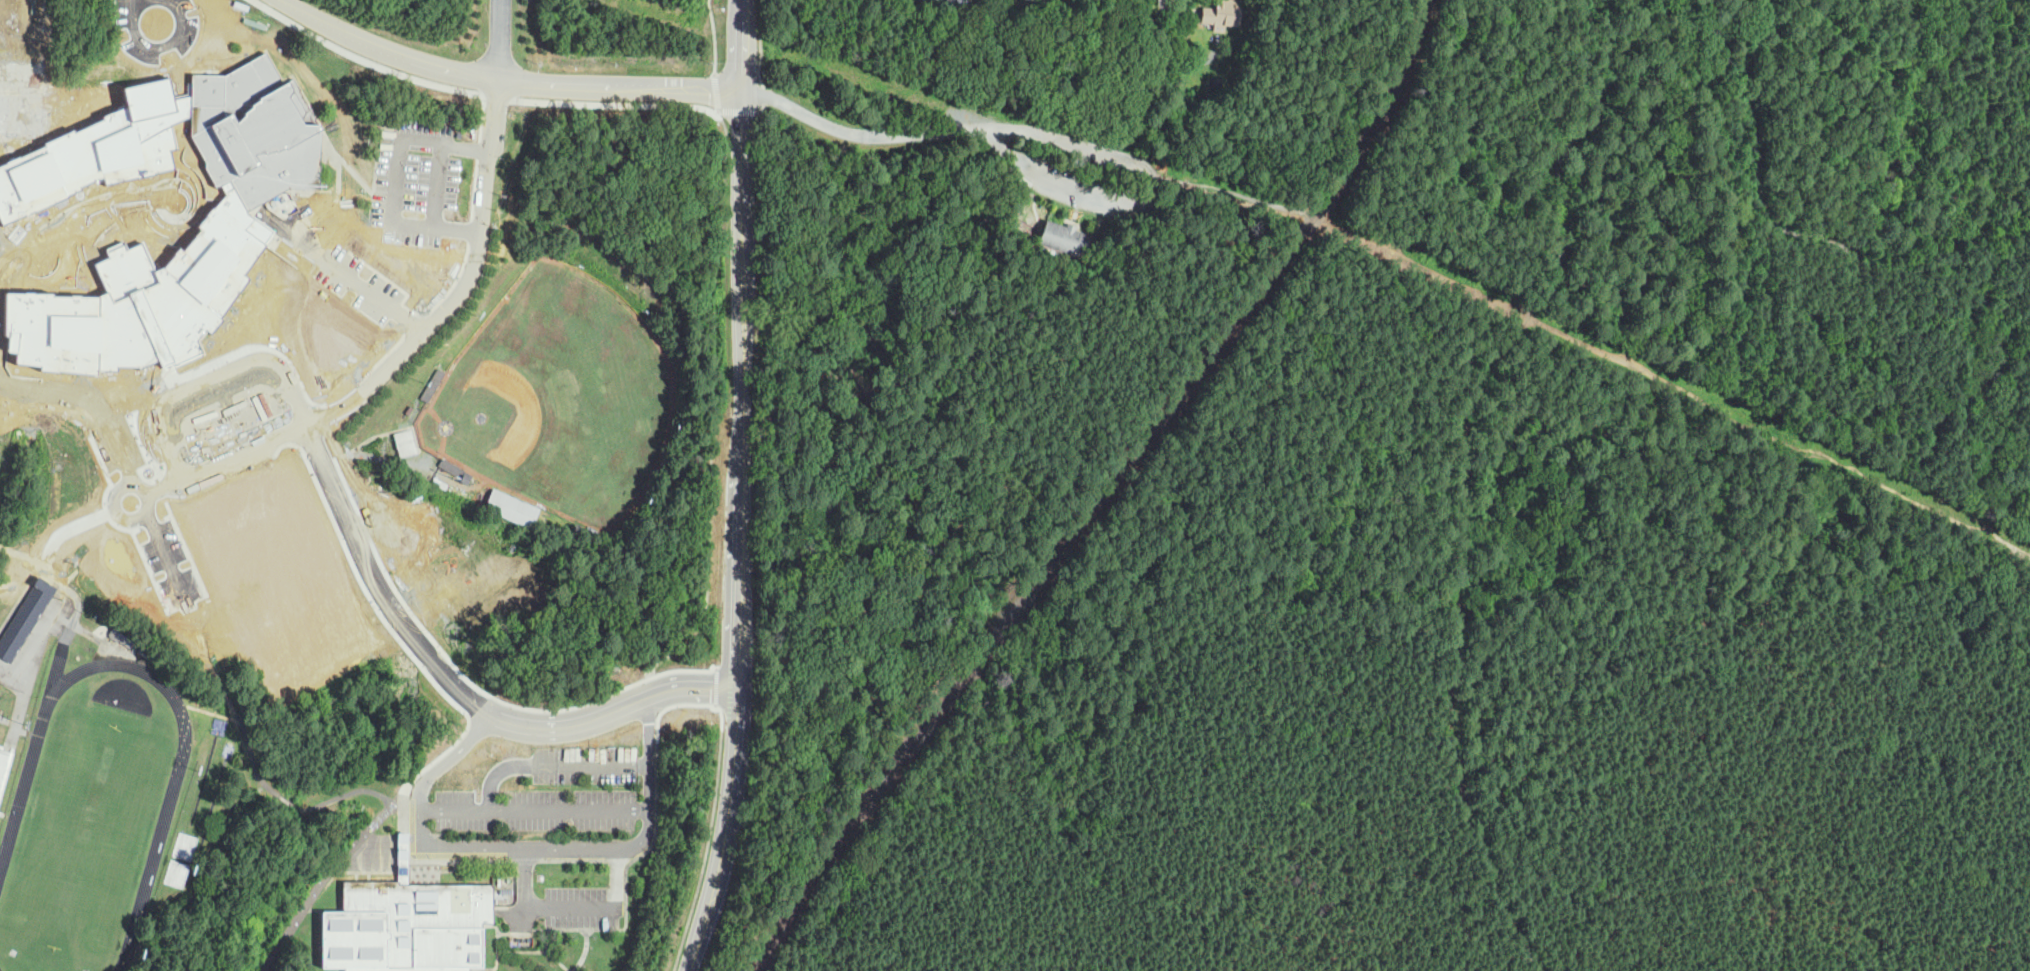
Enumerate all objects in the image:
building: (927, 0)
road: (290, 3)
road: (1166, 9)
building: (1222, 14)
building: (950, 16)
road: (999, 17)
building: (1020, 25)
road: (714, 37)
road: (761, 40)
road: (1740, 43)
building: (947, 45)
road: (745, 46)
road: (393, 52)
road: (595, 85)
building: (1216, 86)
road: (719, 91)
road: (717, 92)
building: (22, 95)
road: (761, 95)
road: (739, 111)
road: (1055, 139)
road: (384, 163)
road: (744, 163)
road: (724, 176)
road: (394, 194)
building: (1030, 210)
building: (233, 217)
road: (1397, 221)
road: (456, 225)
building: (1064, 239)
road: (1406, 265)
road: (1555, 270)
road: (422, 328)
road: (744, 381)
building: (433, 386)
park: (561, 394)
road: (1970, 396)
road: (2015, 400)
building: (454, 471)
railway: (1104, 492)
building: (511, 507)
road: (1677, 564)
road: (31, 567)
road: (388, 582)
road: (742, 606)
building: (26, 619)
building: (123, 635)
building: (149, 648)
road: (34, 656)
road: (707, 661)
road: (695, 687)
building: (218, 726)
road: (1206, 759)
road: (561, 763)
building: (3, 768)
road: (734, 783)
track: (172, 793)
parking lot: (556, 794)
road: (1991, 805)
road: (542, 810)
road: (1097, 812)
road: (710, 829)
park: (85, 835)
building: (184, 846)
road: (451, 849)
road: (338, 868)
road: (542, 909)
parking lot: (575, 909)
building: (407, 925)
road: (702, 925)
road: (1248, 954)
road: (2026, 968)
track: (0, 969)

